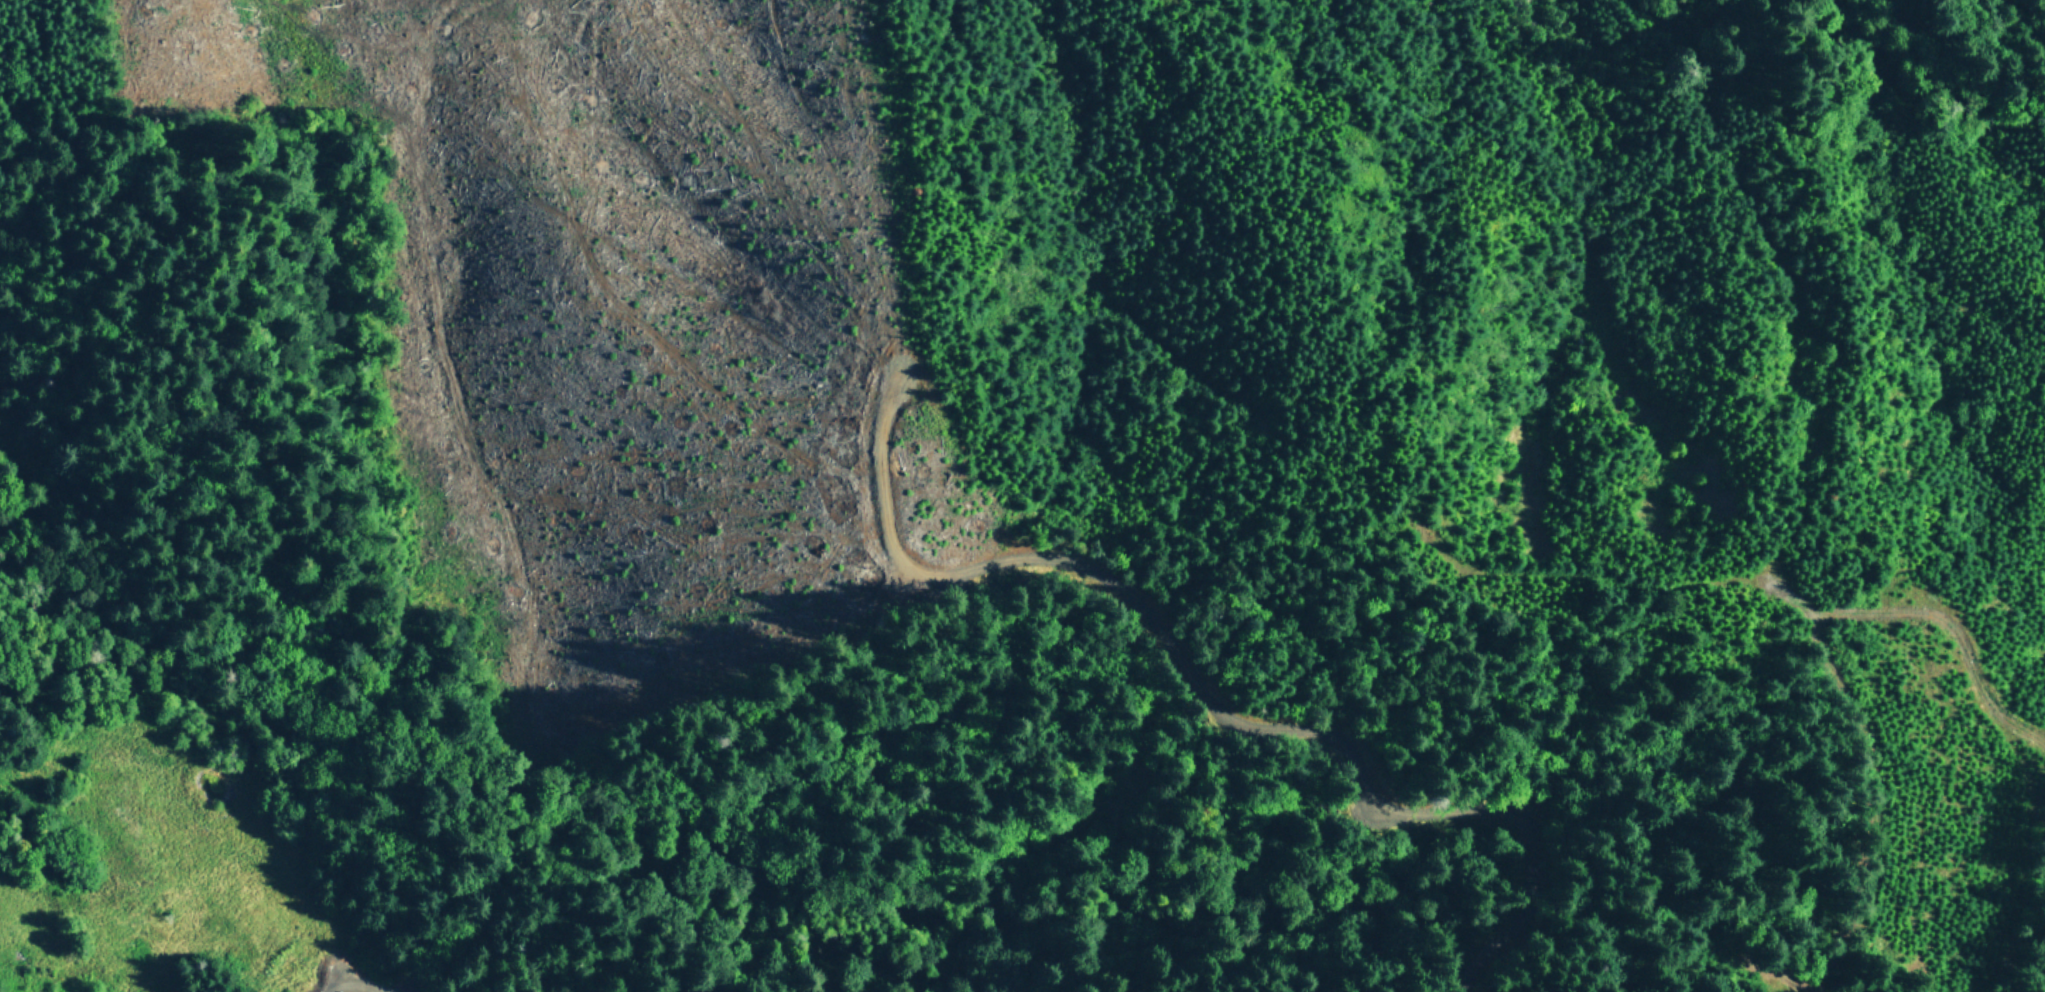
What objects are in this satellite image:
road: (1903, 778)
road: (360, 985)

